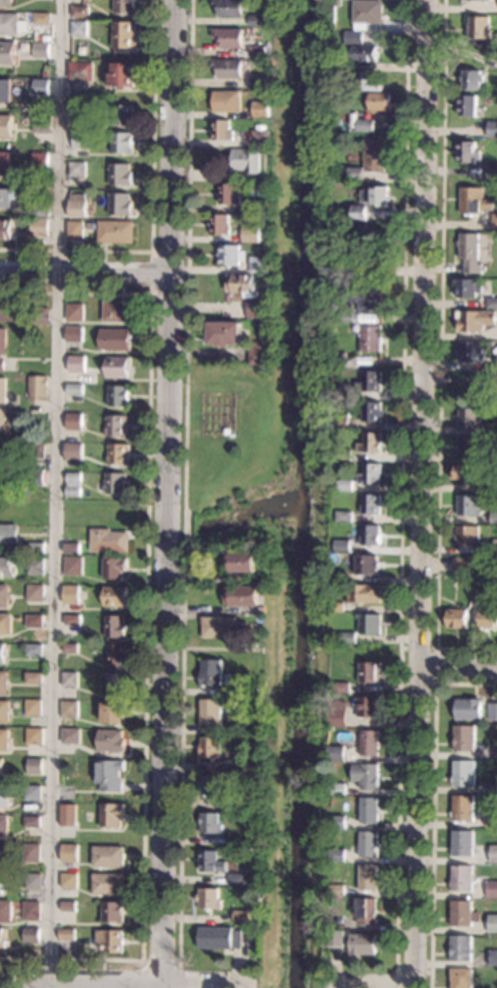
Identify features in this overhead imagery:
building: (470, 0)
building: (486, 0)
building: (6, 3)
building: (340, 3)
building: (124, 6)
building: (231, 8)
building: (369, 11)
building: (80, 12)
building: (42, 19)
building: (259, 21)
building: (24, 22)
building: (9, 24)
building: (478, 27)
building: (79, 28)
building: (125, 35)
building: (354, 37)
building: (229, 38)
building: (337, 43)
building: (41, 50)
building: (259, 51)
building: (7, 53)
building: (366, 53)
building: (348, 66)
building: (230, 69)
building: (81, 71)
building: (123, 75)
building: (472, 79)
building: (369, 82)
building: (259, 83)
building: (30, 87)
building: (41, 87)
building: (5, 91)
building: (487, 100)
building: (228, 101)
building: (380, 102)
building: (468, 105)
building: (262, 110)
building: (82, 113)
building: (124, 115)
building: (42, 124)
building: (5, 126)
building: (366, 126)
building: (492, 128)
building: (223, 130)
building: (262, 136)
building: (355, 136)
building: (81, 140)
building: (122, 143)
building: (468, 152)
building: (264, 153)
building: (376, 156)
building: (41, 160)
building: (247, 160)
building: (4, 163)
building: (78, 169)
building: (492, 171)
building: (356, 173)
building: (121, 175)
building: (81, 190)
building: (230, 194)
building: (6, 198)
building: (371, 201)
building: (474, 201)
road: (153, 202)
building: (120, 204)
building: (77, 205)
building: (255, 205)
building: (42, 209)
building: (28, 221)
building: (494, 222)
building: (221, 224)
building: (91, 226)
building: (40, 227)
building: (75, 229)
building: (6, 230)
building: (337, 231)
building: (116, 232)
building: (252, 234)
building: (382, 250)
building: (471, 253)
building: (233, 255)
building: (375, 260)
building: (260, 265)
road: (86, 273)
building: (242, 284)
building: (467, 288)
road: (152, 291)
building: (370, 299)
building: (492, 303)
building: (258, 309)
building: (6, 312)
building: (75, 312)
building: (118, 312)
building: (346, 312)
building: (41, 316)
building: (476, 320)
building: (75, 334)
building: (227, 334)
building: (371, 338)
building: (115, 339)
building: (3, 348)
building: (471, 352)
building: (259, 354)
road: (440, 354)
building: (77, 360)
building: (347, 362)
building: (119, 367)
building: (371, 381)
building: (39, 388)
building: (76, 389)
building: (344, 393)
building: (119, 395)
building: (4, 409)
building: (373, 413)
building: (470, 418)
building: (342, 421)
building: (75, 422)
building: (117, 425)
building: (371, 443)
building: (469, 446)
building: (37, 450)
building: (74, 451)
building: (2, 453)
building: (119, 454)
building: (344, 455)
building: (465, 472)
building: (371, 474)
building: (36, 476)
road: (185, 481)
building: (2, 482)
building: (117, 483)
road: (401, 483)
building: (74, 484)
building: (345, 486)
building: (493, 488)
road: (55, 494)
road: (169, 494)
river: (300, 494)
road: (424, 494)
building: (371, 505)
building: (468, 506)
river: (248, 515)
building: (345, 517)
building: (494, 518)
building: (9, 535)
building: (372, 536)
building: (468, 536)
building: (109, 541)
building: (343, 546)
building: (495, 547)
building: (37, 548)
building: (72, 548)
building: (261, 556)
building: (242, 562)
building: (367, 564)
building: (461, 565)
building: (7, 566)
building: (36, 566)
building: (74, 566)
building: (114, 568)
building: (337, 576)
building: (480, 580)
building: (36, 593)
building: (71, 594)
building: (365, 594)
building: (4, 596)
building: (116, 596)
building: (242, 596)
building: (337, 607)
building: (262, 610)
building: (457, 618)
building: (260, 619)
building: (488, 619)
building: (73, 620)
building: (35, 621)
road: (147, 622)
building: (5, 624)
building: (369, 624)
building: (116, 627)
building: (220, 627)
building: (348, 638)
building: (70, 648)
building: (34, 650)
building: (2, 653)
building: (117, 655)
road: (436, 665)
road: (460, 671)
building: (370, 672)
building: (212, 673)
building: (34, 678)
building: (70, 679)
building: (3, 682)
building: (117, 684)
building: (342, 688)
building: (240, 691)
building: (254, 691)
building: (70, 696)
building: (33, 707)
building: (369, 707)
building: (70, 708)
building: (468, 710)
building: (4, 711)
building: (211, 712)
building: (492, 712)
building: (115, 713)
building: (338, 714)
building: (247, 728)
building: (35, 736)
building: (71, 736)
building: (464, 738)
building: (4, 740)
building: (111, 741)
building: (370, 743)
building: (210, 747)
building: (495, 751)
building: (338, 755)
building: (247, 764)
building: (35, 766)
building: (1, 768)
building: (464, 773)
building: (109, 774)
building: (367, 775)
building: (210, 784)
building: (488, 787)
building: (335, 789)
building: (33, 793)
building: (4, 797)
building: (246, 802)
road: (433, 804)
building: (463, 808)
building: (369, 810)
building: (68, 815)
building: (112, 815)
building: (492, 820)
building: (32, 821)
building: (338, 822)
building: (211, 823)
building: (3, 826)
building: (463, 843)
building: (369, 844)
building: (31, 853)
building: (70, 853)
building: (4, 854)
building: (494, 854)
building: (337, 855)
building: (108, 857)
building: (212, 862)
building: (74, 867)
building: (369, 878)
building: (462, 878)
building: (237, 879)
building: (69, 880)
building: (33, 881)
building: (1, 882)
building: (108, 884)
building: (492, 889)
building: (337, 890)
building: (209, 899)
building: (68, 906)
building: (6, 911)
building: (31, 911)
building: (367, 911)
building: (113, 912)
building: (464, 913)
building: (242, 916)
building: (493, 923)
building: (67, 934)
building: (31, 935)
building: (219, 938)
building: (3, 939)
building: (111, 941)
building: (354, 943)
building: (461, 948)
building: (494, 957)
road: (160, 962)
road: (403, 968)
road: (142, 974)
road: (180, 976)
building: (462, 978)
road: (81, 980)
road: (210, 982)
road: (373, 986)

